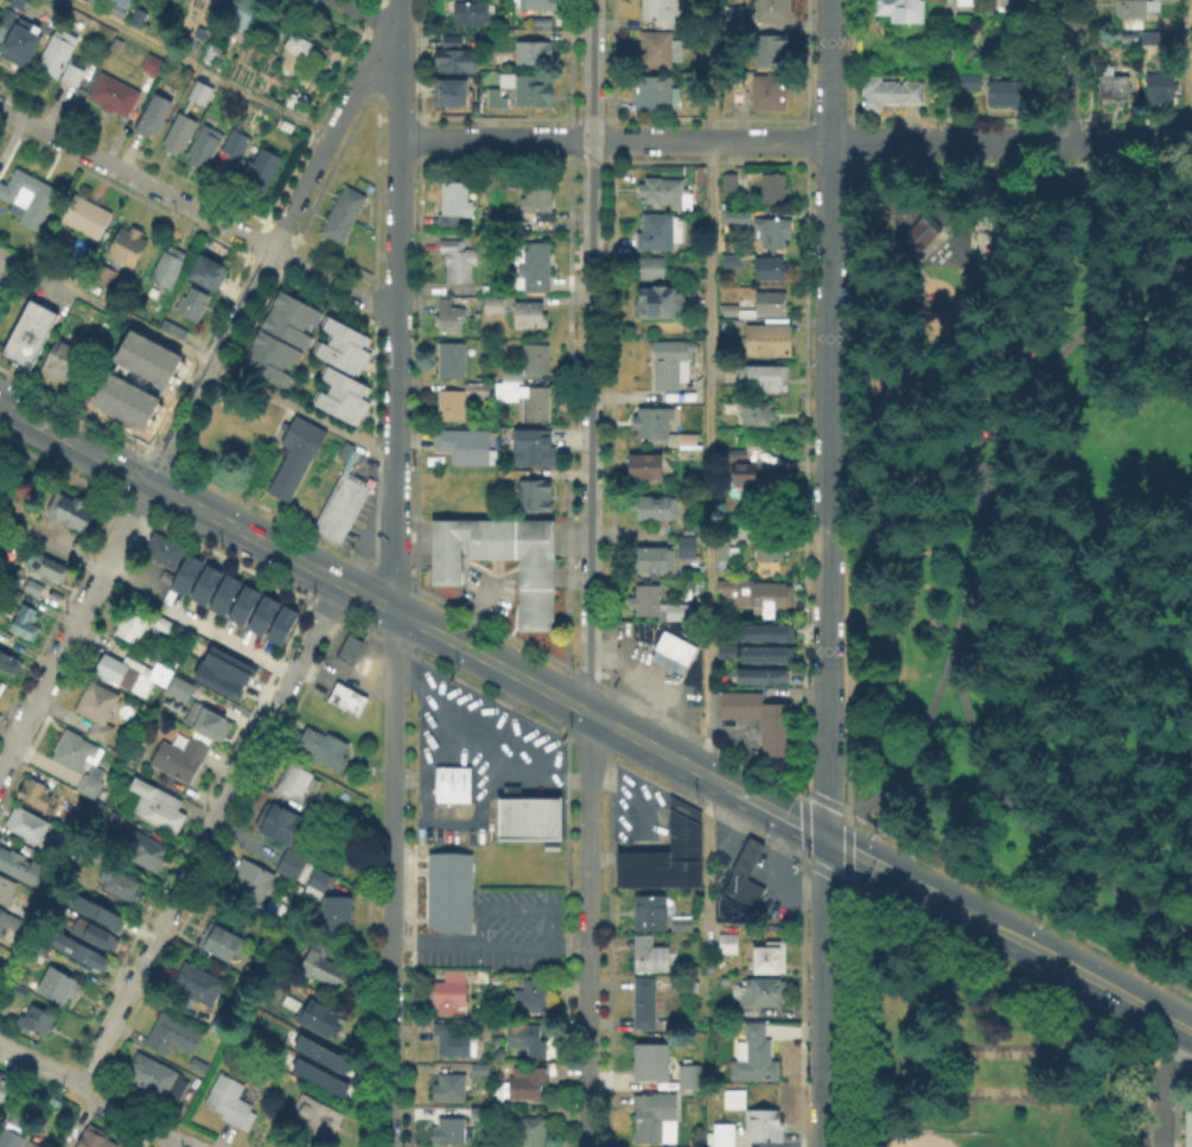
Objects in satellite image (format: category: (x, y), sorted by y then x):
building: (0, 0)
building: (94, 1)
building: (935, 1)
building: (119, 2)
building: (218, 2)
building: (964, 4)
building: (1011, 5)
building: (533, 6)
building: (241, 12)
building: (771, 12)
building: (1129, 12)
building: (8, 14)
road: (372, 14)
building: (662, 14)
building: (895, 14)
building: (467, 17)
building: (731, 18)
building: (139, 19)
building: (200, 33)
building: (453, 40)
building: (20, 43)
building: (114, 43)
building: (53, 50)
building: (216, 51)
building: (657, 52)
building: (295, 53)
building: (769, 53)
building: (531, 56)
building: (458, 58)
building: (149, 63)
building: (71, 69)
road: (199, 69)
road: (945, 70)
road: (1064, 71)
road: (1187, 71)
building: (179, 77)
building: (967, 83)
building: (454, 90)
building: (1111, 90)
building: (1159, 90)
building: (111, 93)
building: (521, 93)
building: (203, 94)
building: (655, 95)
building: (767, 95)
building: (890, 95)
building: (1007, 98)
building: (154, 115)
building: (183, 135)
building: (1147, 139)
road: (731, 140)
road: (1128, 142)
building: (237, 145)
building: (206, 148)
road: (1056, 161)
building: (263, 170)
building: (701, 177)
road: (1007, 179)
building: (729, 183)
building: (776, 190)
building: (664, 193)
building: (30, 198)
building: (540, 200)
building: (454, 204)
road: (197, 210)
building: (83, 215)
building: (344, 216)
building: (738, 216)
road: (911, 219)
building: (929, 223)
road: (946, 228)
building: (662, 232)
building: (772, 235)
building: (913, 237)
fountain: (1002, 241)
building: (129, 247)
road: (924, 251)
building: (732, 261)
building: (459, 263)
building: (170, 267)
building: (535, 268)
building: (206, 269)
building: (651, 269)
building: (772, 269)
building: (106, 276)
building: (657, 304)
building: (195, 305)
road: (397, 305)
building: (771, 305)
building: (495, 308)
building: (944, 311)
building: (732, 312)
building: (287, 317)
building: (531, 317)
building: (450, 319)
building: (31, 329)
building: (174, 330)
building: (771, 342)
building: (340, 344)
road: (197, 355)
building: (267, 356)
building: (146, 357)
building: (62, 361)
road: (910, 361)
building: (537, 362)
building: (452, 363)
building: (671, 365)
building: (765, 378)
building: (509, 384)
building: (340, 394)
road: (193, 395)
building: (123, 399)
building: (461, 402)
building: (536, 407)
building: (759, 416)
road: (828, 418)
building: (655, 425)
building: (689, 442)
building: (468, 447)
building: (535, 447)
building: (734, 455)
building: (298, 457)
road: (709, 467)
building: (645, 469)
building: (744, 474)
building: (536, 497)
building: (343, 503)
road: (196, 506)
road: (982, 509)
building: (657, 510)
building: (69, 512)
road: (625, 533)
building: (689, 548)
building: (771, 548)
building: (166, 552)
building: (724, 552)
building: (656, 561)
building: (43, 568)
road: (589, 573)
building: (186, 574)
building: (538, 576)
building: (205, 584)
building: (31, 586)
building: (756, 592)
building: (224, 594)
building: (243, 604)
building: (657, 606)
building: (262, 614)
building: (25, 624)
building: (281, 624)
building: (164, 625)
building: (132, 626)
building: (766, 632)
road: (225, 641)
park: (1014, 644)
building: (352, 651)
building: (676, 654)
building: (766, 654)
building: (228, 663)
building: (8, 665)
building: (764, 675)
building: (142, 677)
building: (216, 678)
building: (1, 689)
building: (349, 701)
building: (98, 710)
building: (764, 722)
road: (394, 726)
road: (974, 733)
building: (193, 745)
building: (320, 748)
building: (74, 753)
building: (298, 782)
building: (90, 786)
building: (454, 786)
building: (36, 794)
road: (837, 805)
building: (159, 808)
building: (529, 817)
road: (793, 820)
building: (28, 826)
building: (281, 826)
road: (848, 829)
road: (1039, 831)
road: (209, 835)
traffic signals: (827, 837)
building: (144, 849)
building: (669, 856)
building: (292, 866)
building: (23, 869)
building: (747, 877)
building: (253, 884)
building: (319, 885)
building: (122, 886)
building: (452, 886)
building: (7, 890)
building: (773, 906)
building: (96, 911)
building: (652, 915)
building: (338, 919)
building: (8, 924)
building: (682, 924)
building: (89, 931)
road: (490, 937)
building: (218, 941)
building: (731, 945)
building: (38, 950)
building: (78, 954)
building: (650, 956)
building: (772, 960)
building: (321, 967)
road: (390, 981)
building: (199, 986)
building: (58, 987)
road: (826, 992)
building: (450, 994)
building: (763, 994)
building: (531, 999)
building: (646, 1005)
building: (317, 1017)
building: (34, 1022)
building: (174, 1037)
building: (527, 1039)
building: (454, 1044)
building: (320, 1052)
building: (756, 1058)
building: (652, 1064)
road: (39, 1066)
building: (480, 1071)
park: (995, 1071)
building: (318, 1076)
building: (158, 1079)
building: (694, 1079)
road: (1162, 1085)
building: (4, 1087)
building: (528, 1087)
building: (452, 1089)
building: (735, 1101)
building: (231, 1103)
parking lot: (1156, 1105)
building: (480, 1116)
road: (136, 1117)
building: (317, 1119)
building: (657, 1120)
building: (1190, 1124)
building: (765, 1127)
building: (453, 1133)
building: (530, 1133)
road: (388, 1134)
building: (8, 1138)
building: (95, 1138)
building: (722, 1138)
park: (1006, 1139)
building: (30, 1143)
building: (125, 1146)

